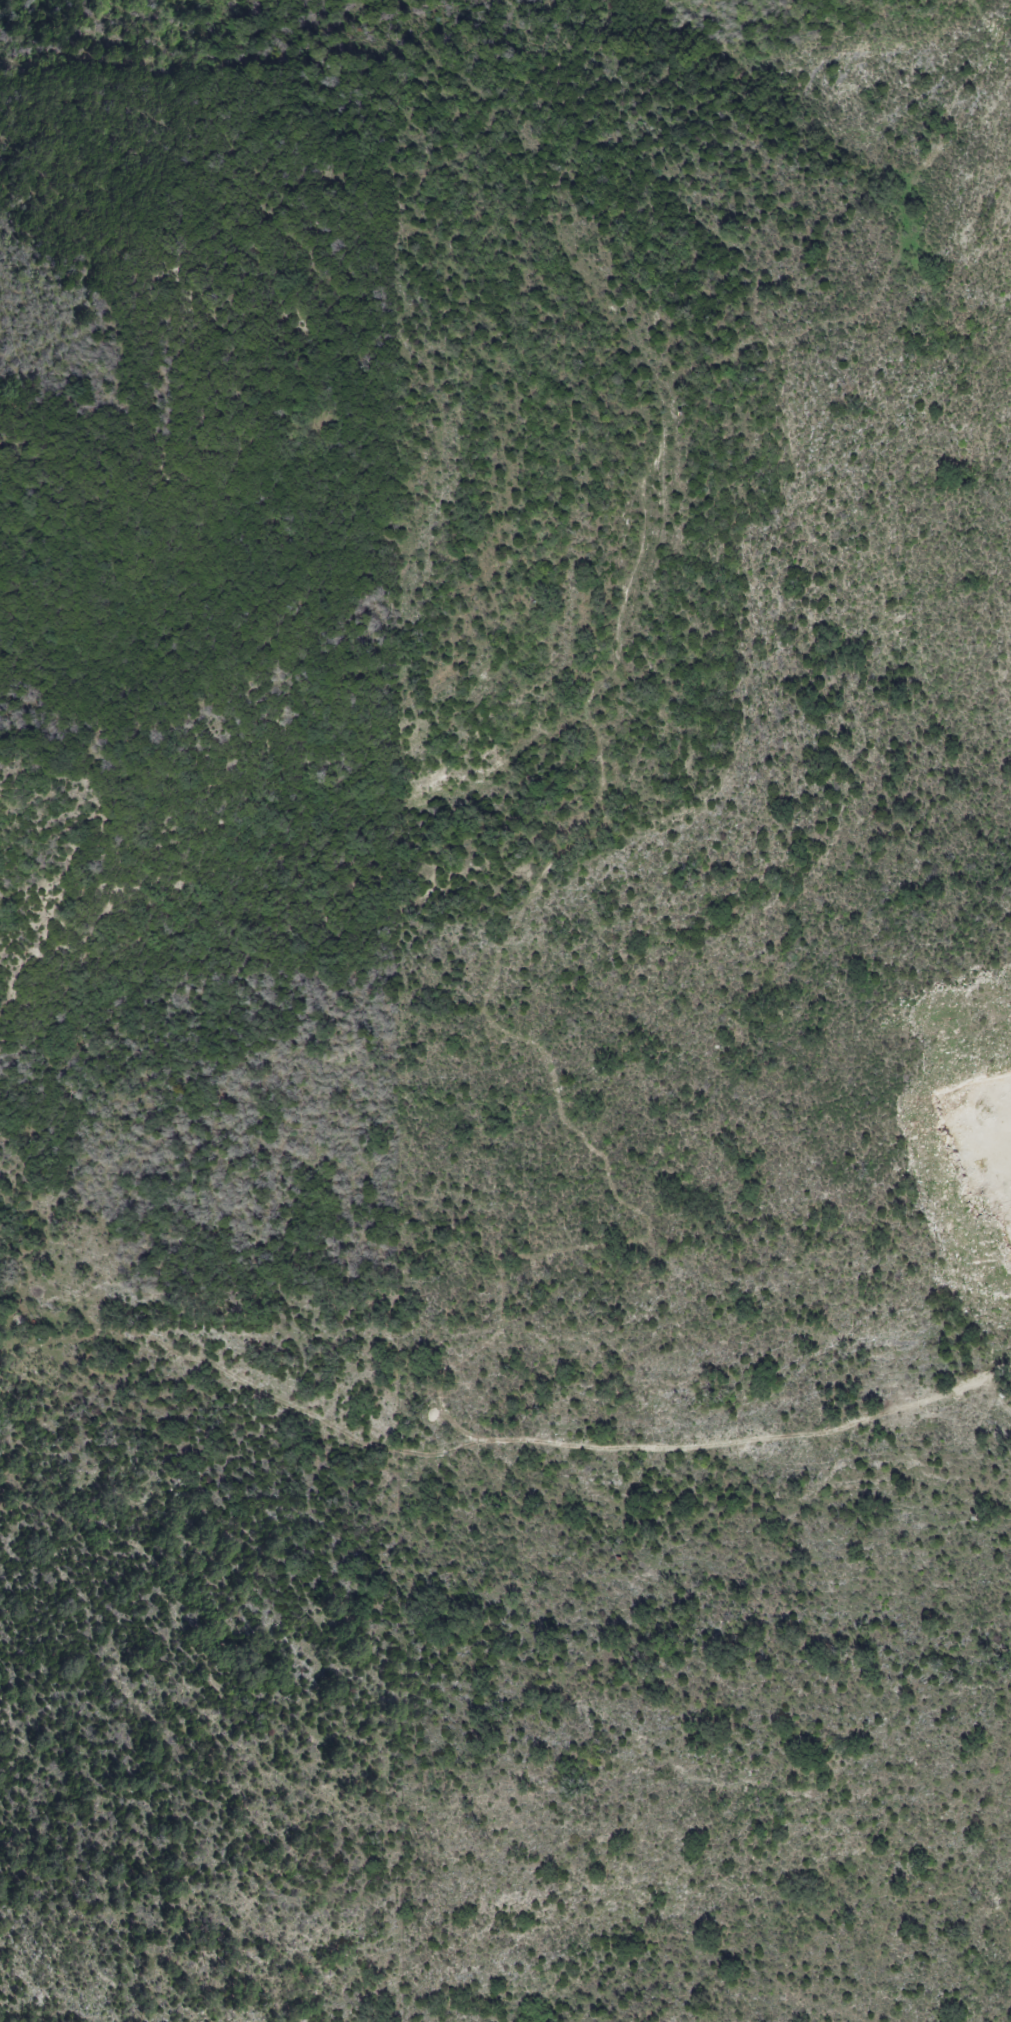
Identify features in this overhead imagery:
road: (500, 1452)

